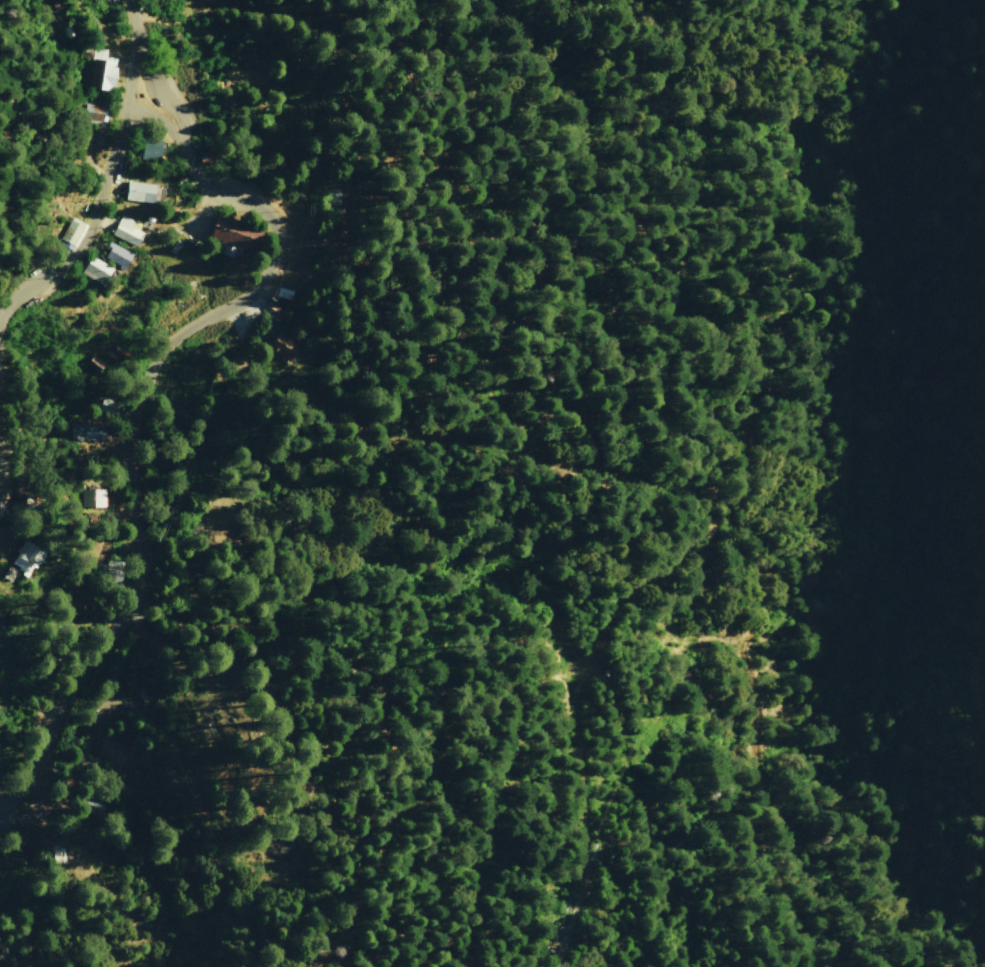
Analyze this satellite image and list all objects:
road: (131, 54)
building: (100, 67)
road: (162, 89)
building: (93, 112)
building: (151, 150)
building: (141, 191)
road: (91, 228)
building: (72, 231)
building: (128, 231)
building: (237, 235)
building: (117, 255)
building: (96, 270)
building: (284, 346)
building: (96, 363)
road: (139, 419)
building: (87, 431)
building: (93, 497)
building: (27, 557)
road: (979, 682)
park: (267, 749)
building: (114, 750)
building: (532, 965)

